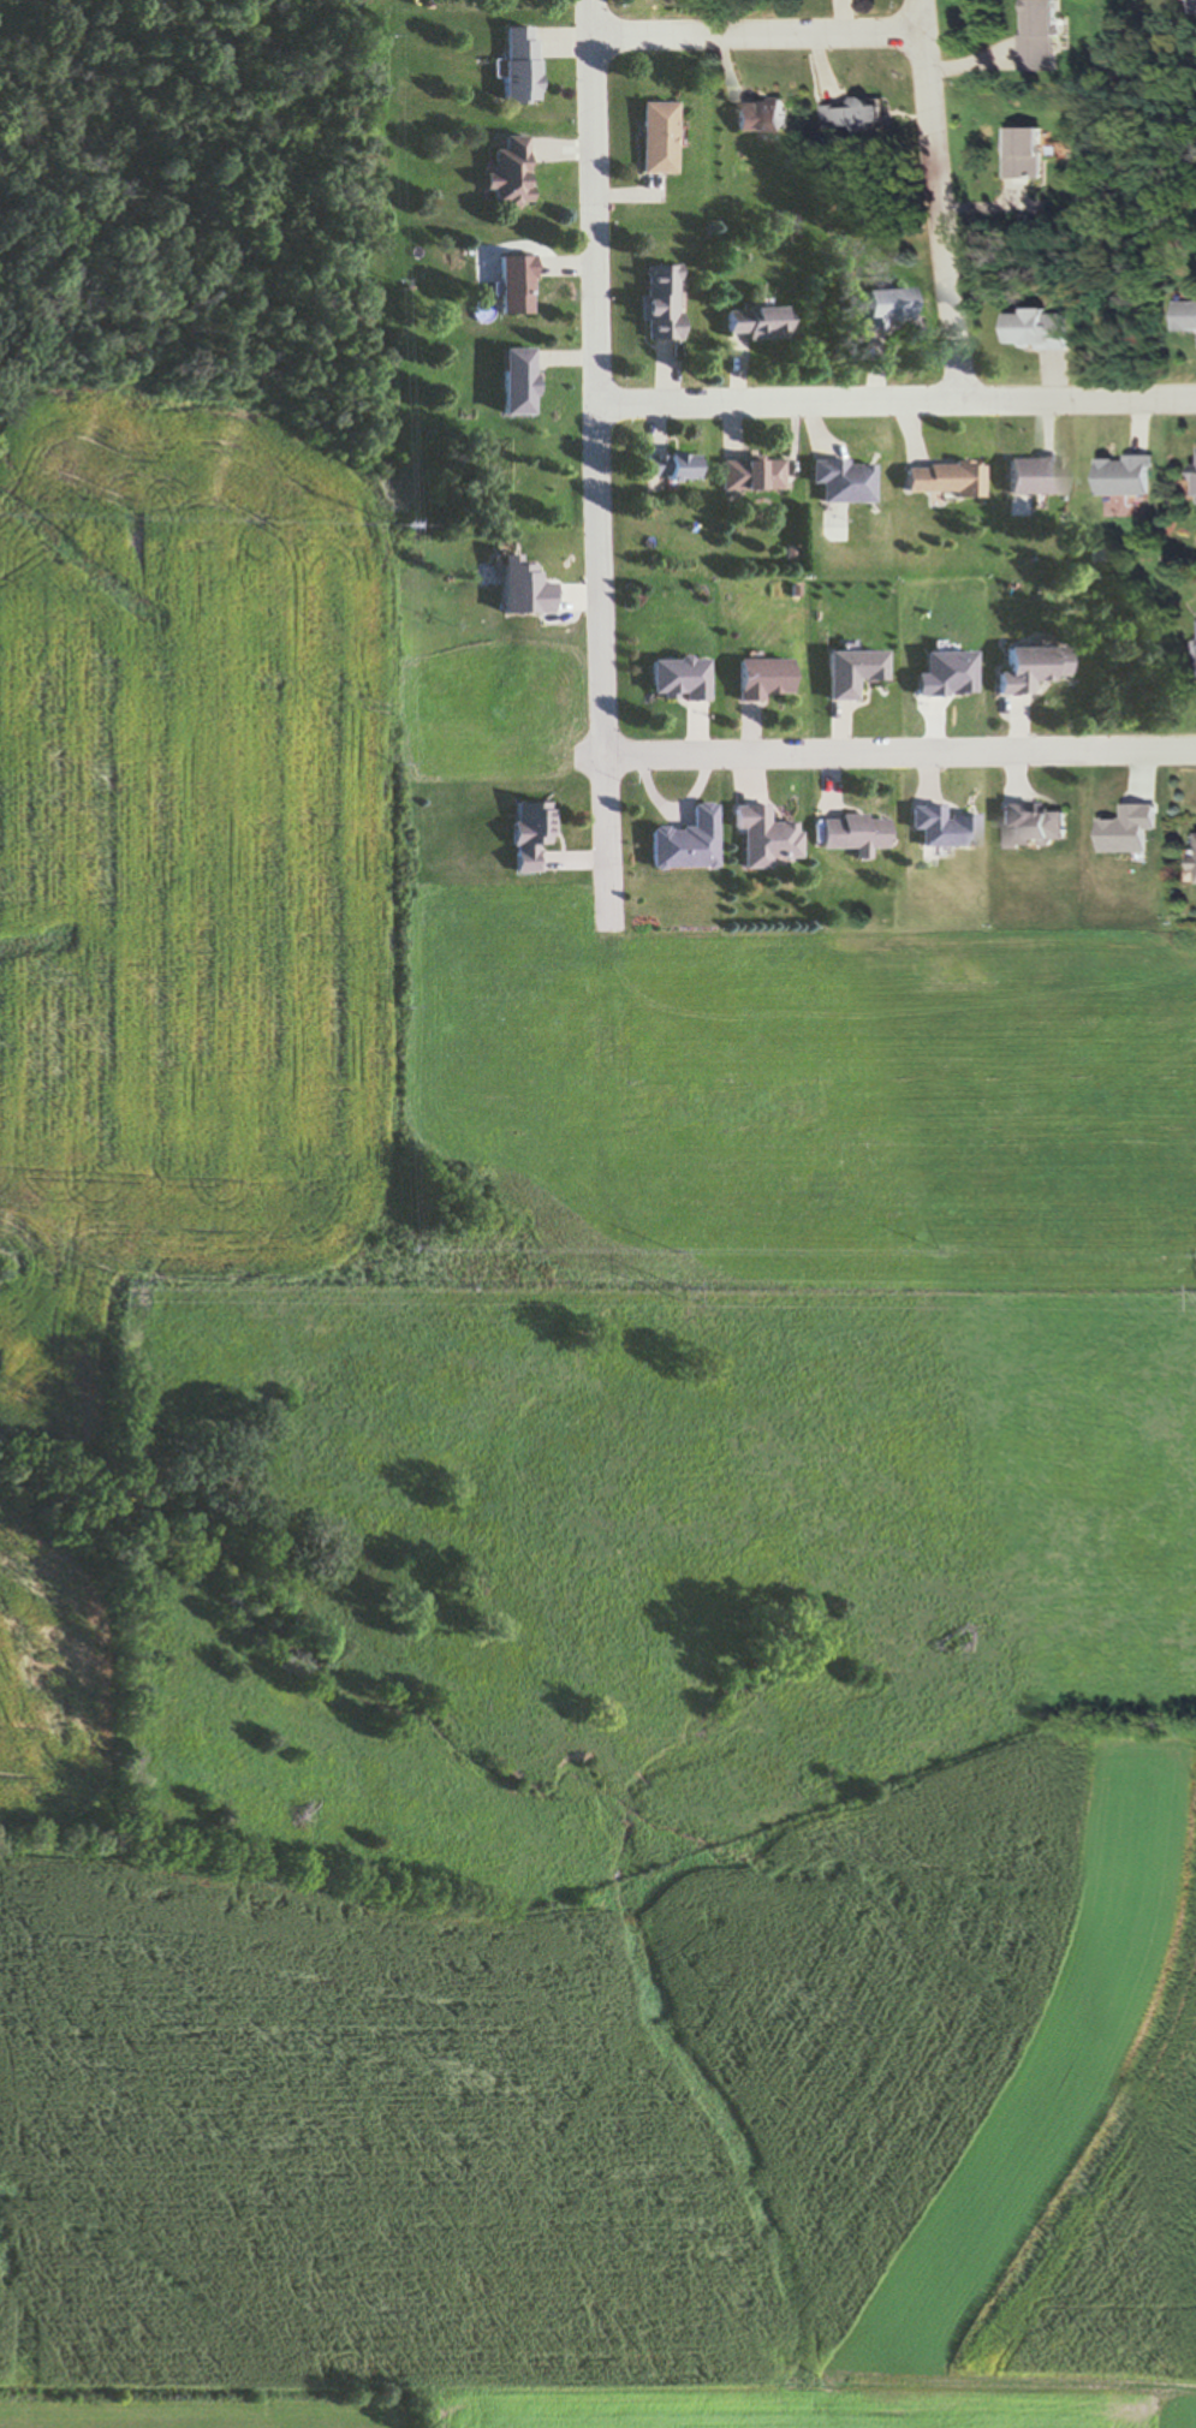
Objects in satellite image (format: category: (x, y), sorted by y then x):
road: (757, 31)
building: (1045, 37)
building: (519, 66)
building: (856, 115)
building: (762, 117)
building: (655, 138)
building: (1030, 153)
building: (504, 172)
road: (940, 197)
building: (511, 286)
building: (659, 303)
building: (883, 309)
building: (1189, 317)
building: (755, 325)
building: (1045, 331)
building: (514, 382)
road: (894, 394)
road: (594, 464)
building: (668, 465)
building: (750, 472)
building: (1033, 475)
building: (1133, 475)
building: (941, 478)
building: (844, 480)
building: (1029, 668)
building: (849, 671)
building: (760, 677)
building: (676, 678)
road: (895, 750)
building: (1036, 823)
building: (941, 827)
building: (525, 833)
building: (850, 833)
building: (758, 835)
building: (680, 841)
power tower: (677, 1293)
power tower: (124, 1295)

